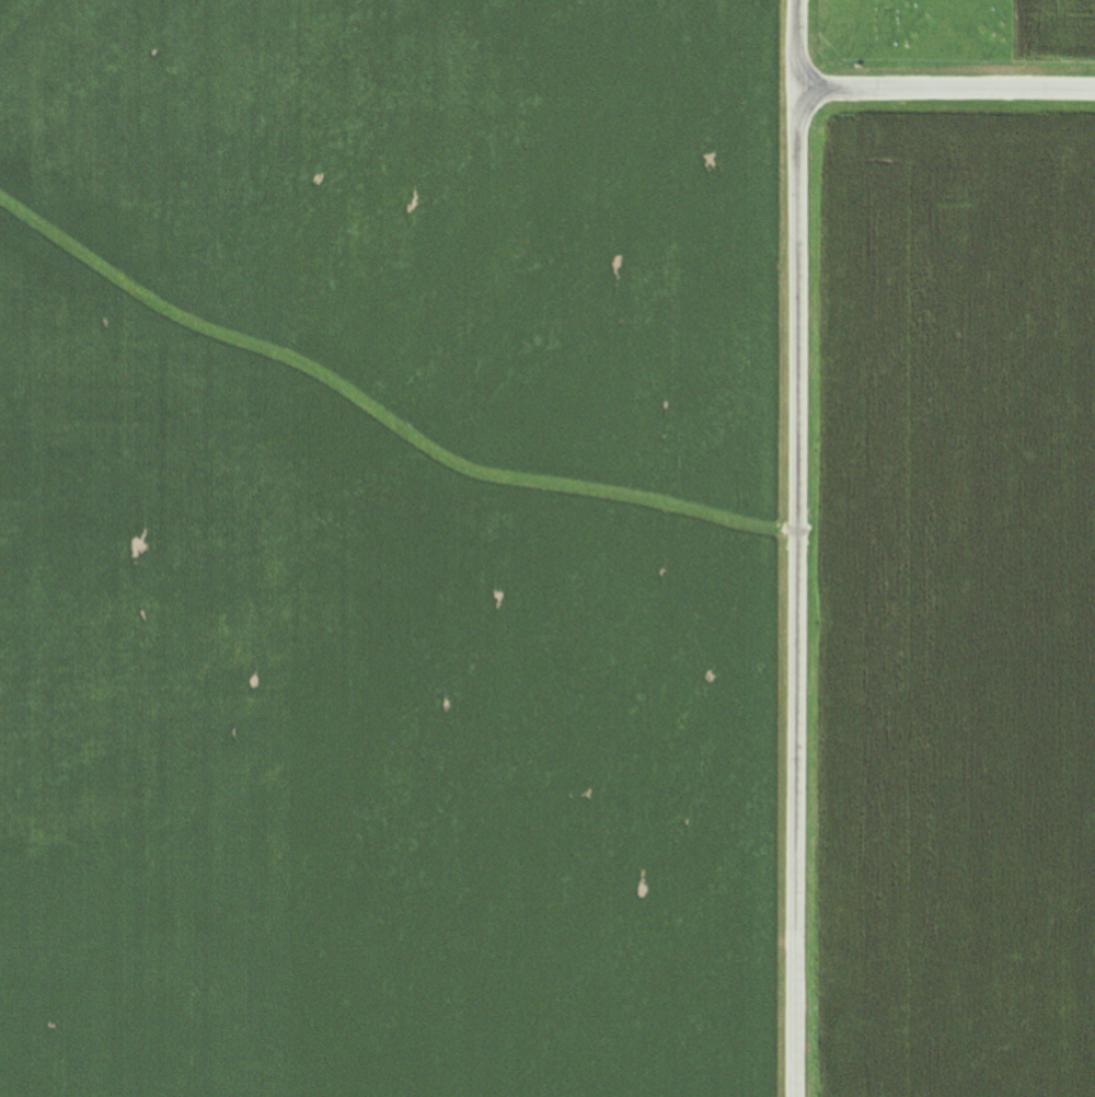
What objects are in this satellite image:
park: (915, 34)
road: (946, 95)
road: (797, 547)

